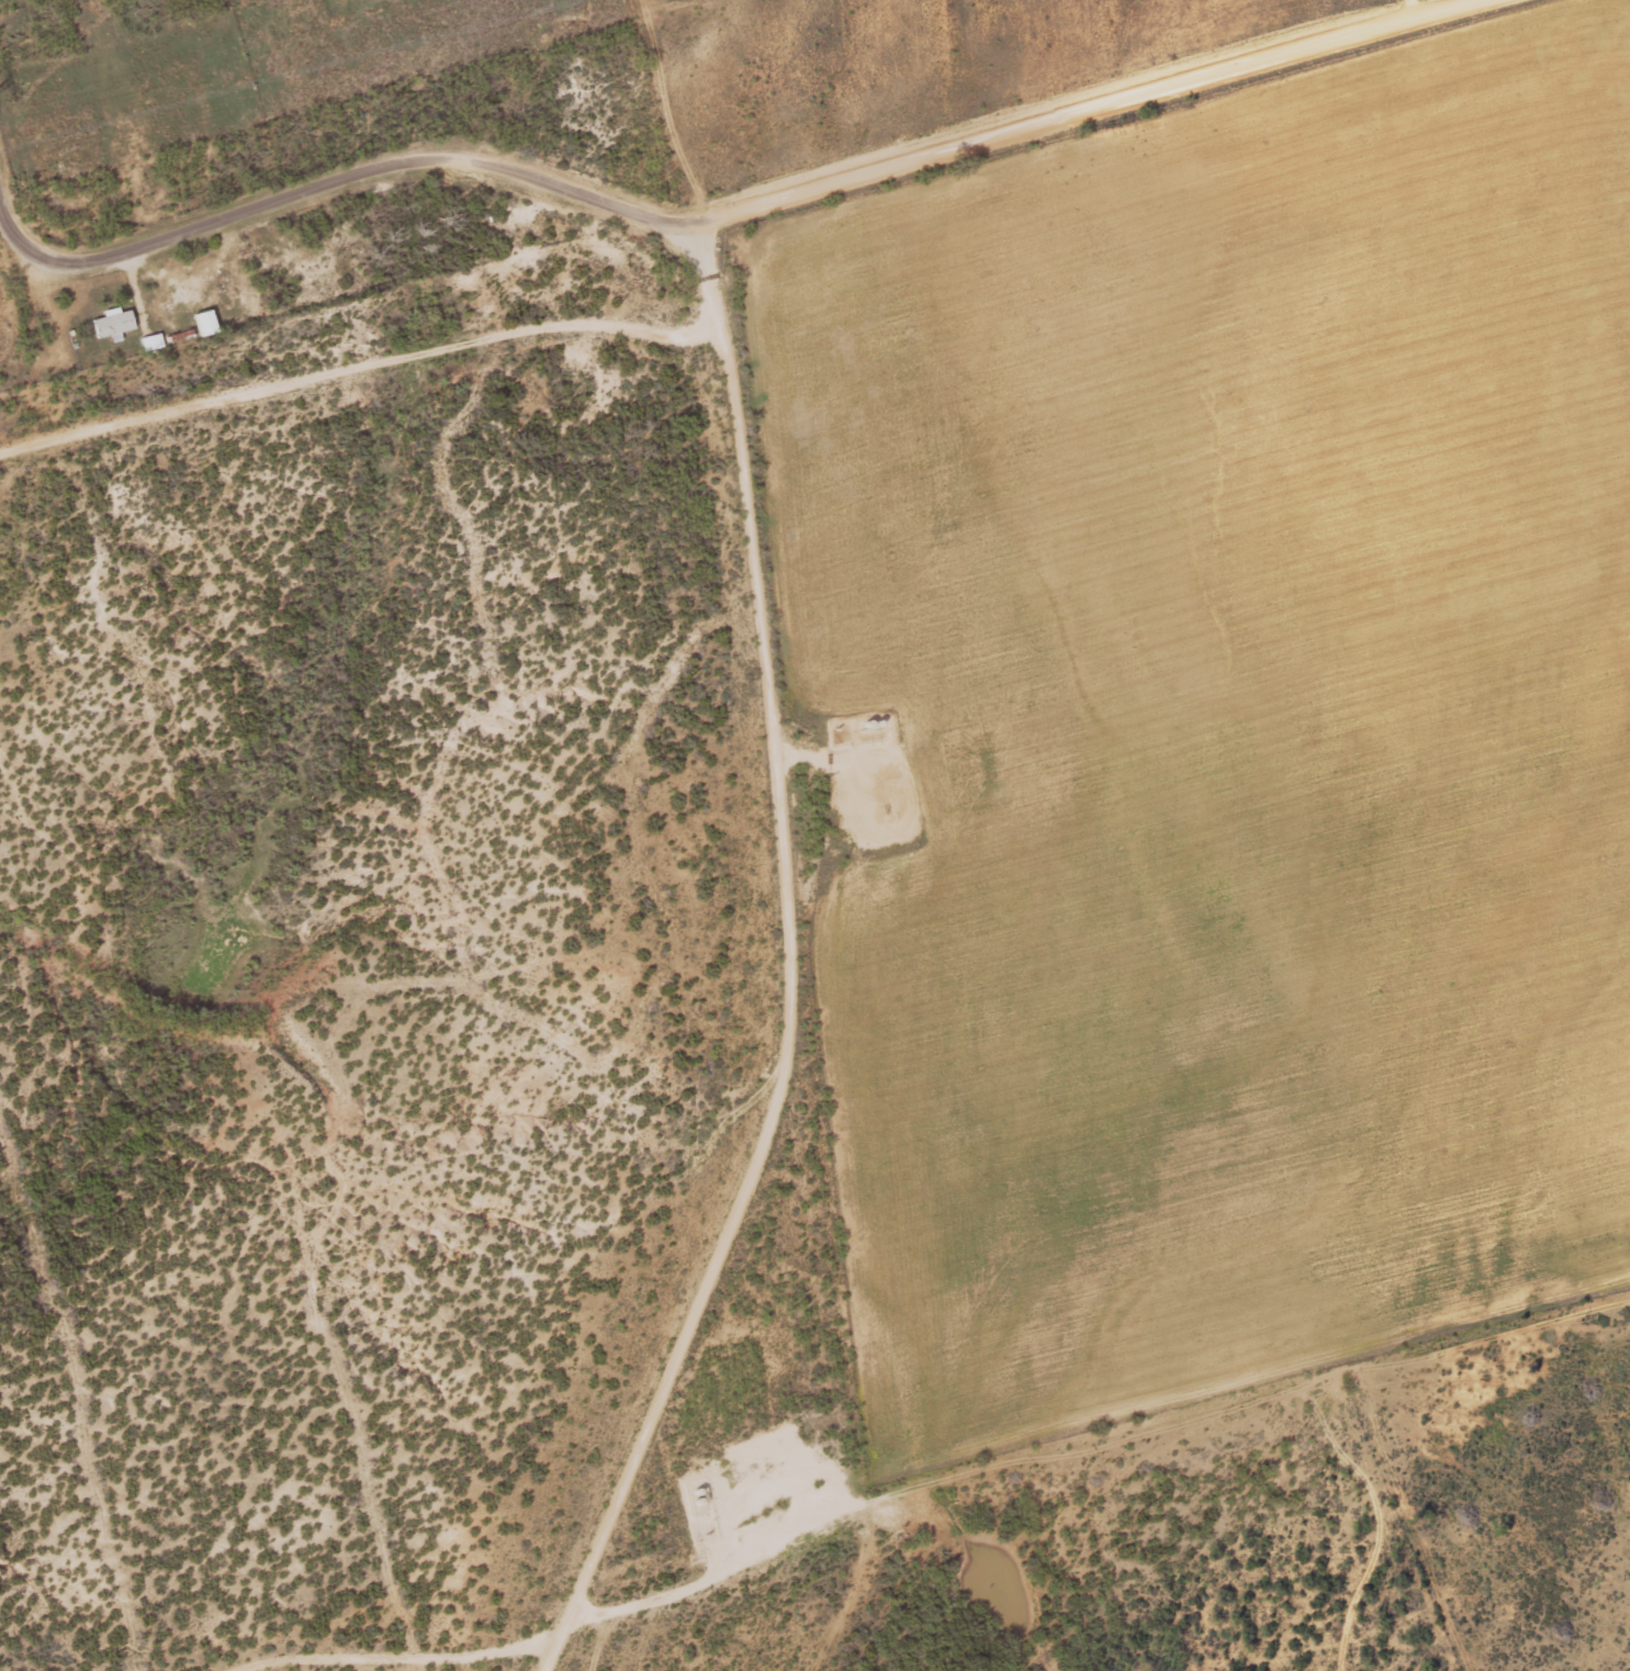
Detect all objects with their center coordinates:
road: (735, 211)
building: (114, 322)
building: (206, 323)
building: (153, 341)
road: (790, 968)

